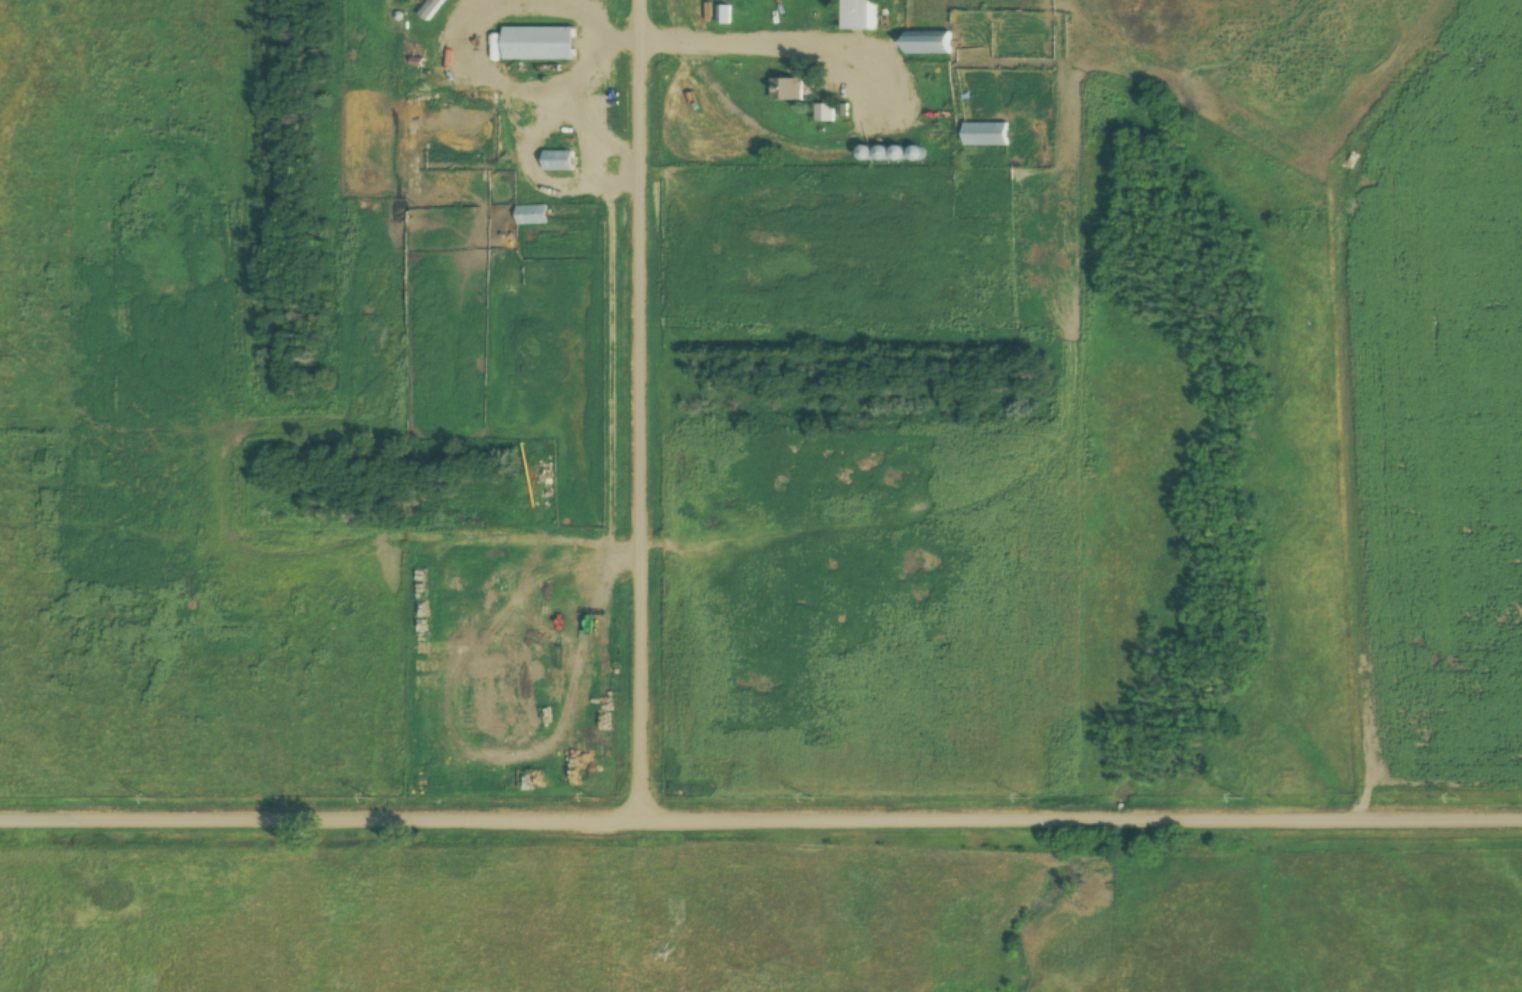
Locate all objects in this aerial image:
building: (855, 15)
road: (767, 36)
building: (539, 44)
building: (785, 90)
building: (822, 114)
building: (559, 162)
road: (642, 406)
road: (761, 812)

